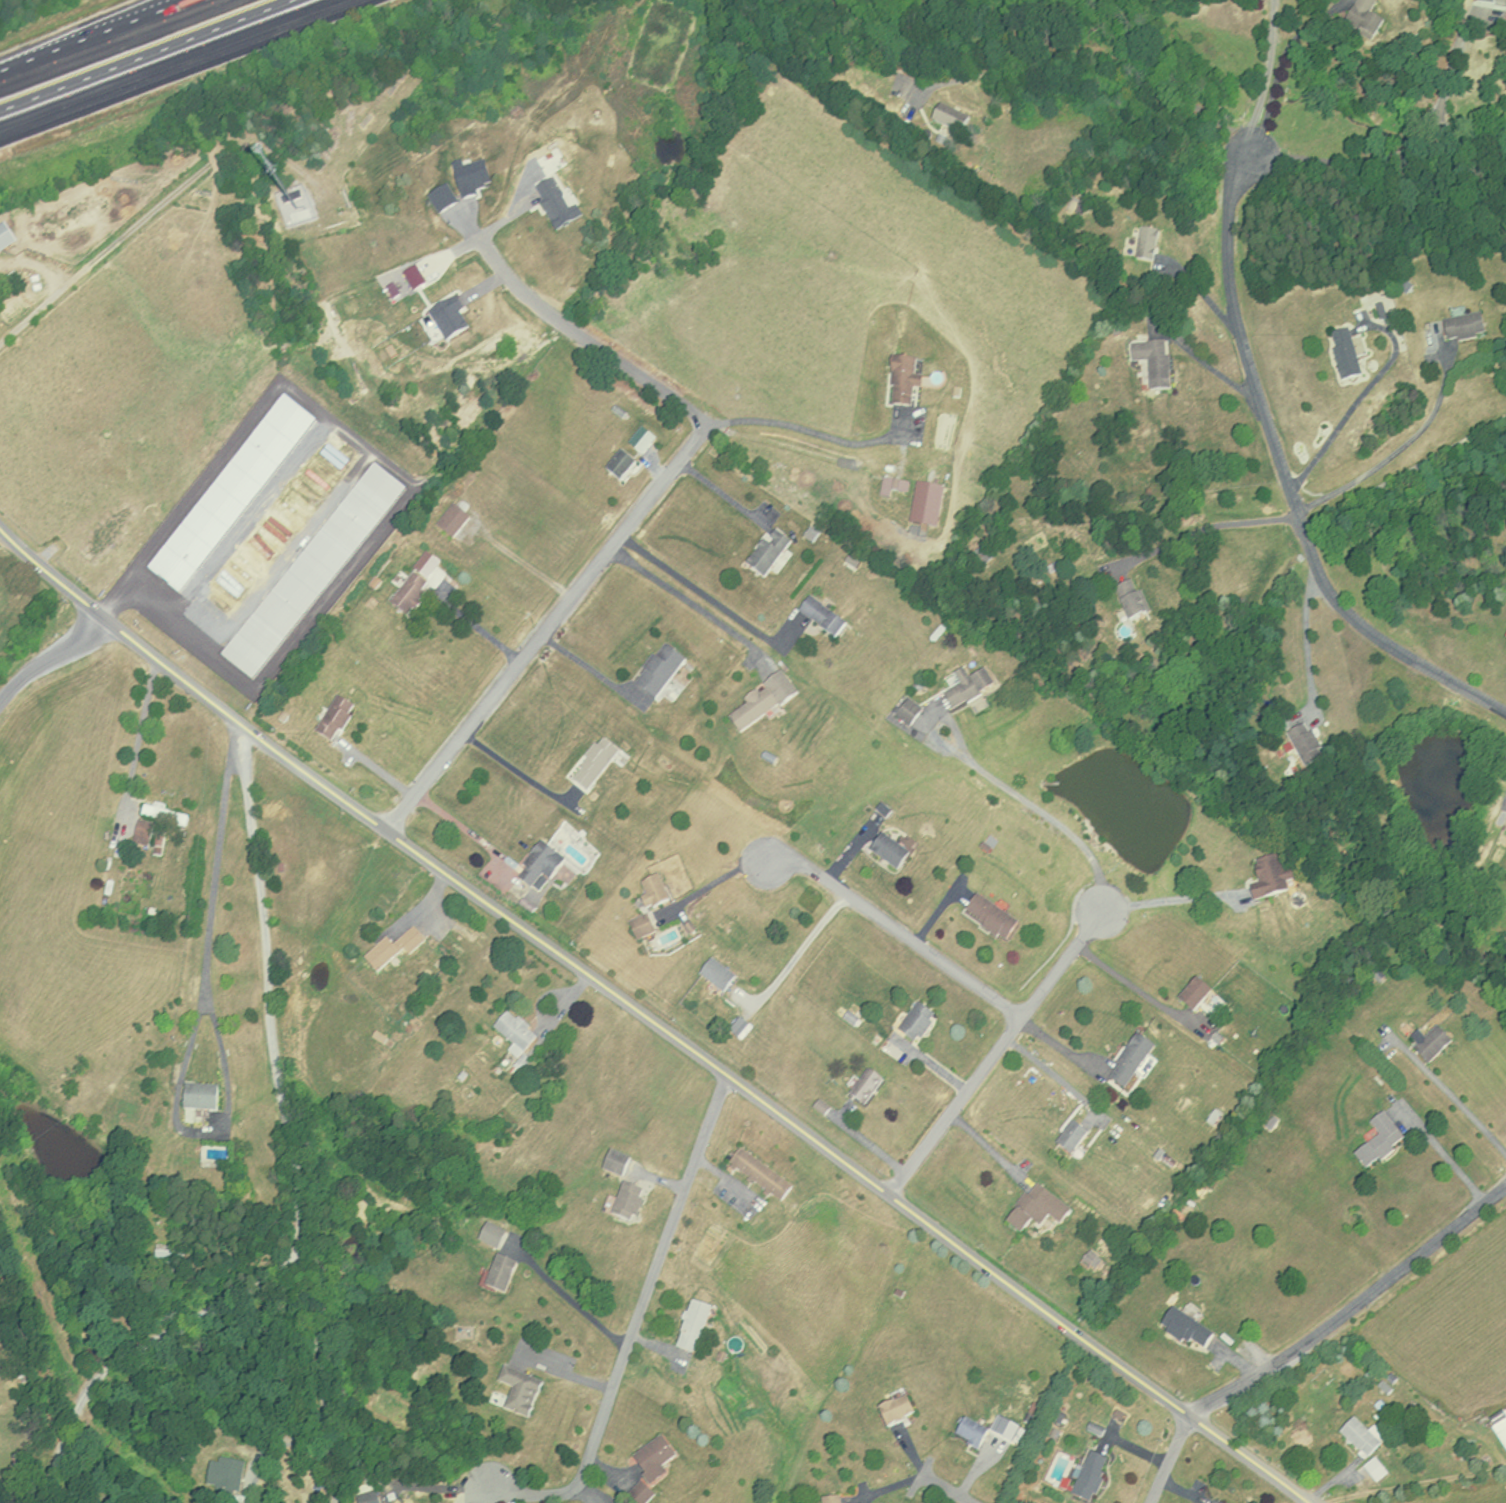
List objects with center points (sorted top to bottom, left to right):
road: (95, 36)
road: (1094, 46)
road: (173, 65)
road: (1267, 76)
road: (1401, 148)
road: (103, 249)
road: (1255, 382)
road: (1359, 399)
road: (811, 426)
road: (1396, 451)
road: (403, 473)
road: (1404, 474)
road: (724, 491)
road: (643, 510)
road: (251, 516)
road: (1203, 526)
road: (288, 546)
road: (709, 593)
road: (685, 595)
road: (478, 627)
road: (1307, 643)
road: (1424, 648)
road: (48, 654)
road: (140, 728)
road: (518, 771)
road: (1043, 808)
road: (473, 833)
road: (721, 878)
road: (1176, 892)
road: (905, 936)
road: (796, 958)
road: (1131, 980)
road: (651, 1017)
road: (194, 1029)
road: (1066, 1046)
road: (998, 1052)
road: (1052, 1069)
road: (1447, 1086)
road: (990, 1144)
road: (1442, 1147)
road: (297, 1175)
road: (581, 1306)
road: (1354, 1309)
road: (637, 1333)
road: (317, 1349)
road: (271, 1447)
road: (1169, 1460)
road: (332, 1474)
road: (945, 1491)

